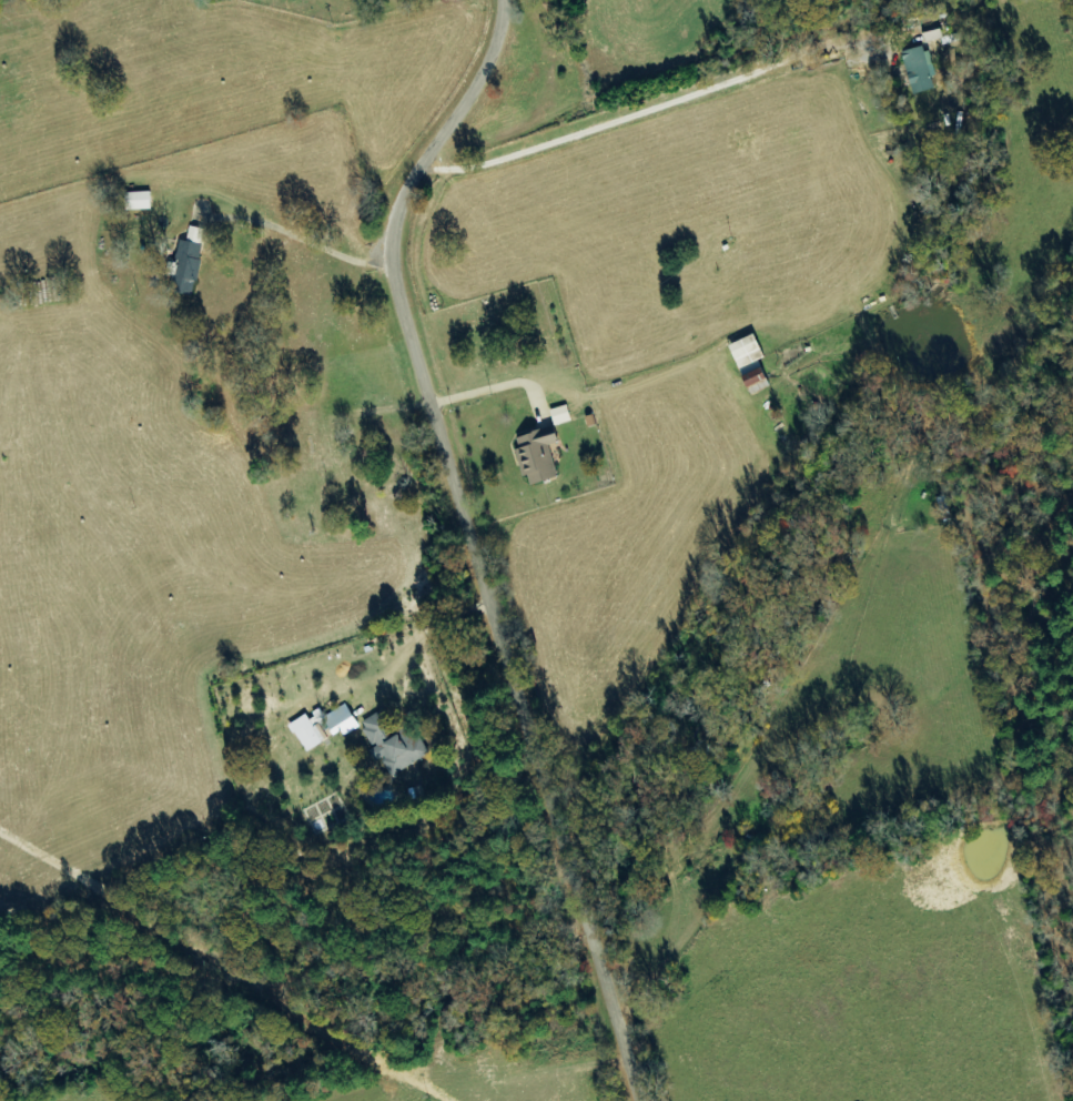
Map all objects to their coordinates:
building: (922, 69)
building: (142, 201)
building: (190, 263)
building: (751, 351)
building: (760, 382)
building: (564, 415)
building: (540, 458)
road: (474, 542)
building: (311, 734)
building: (395, 744)

